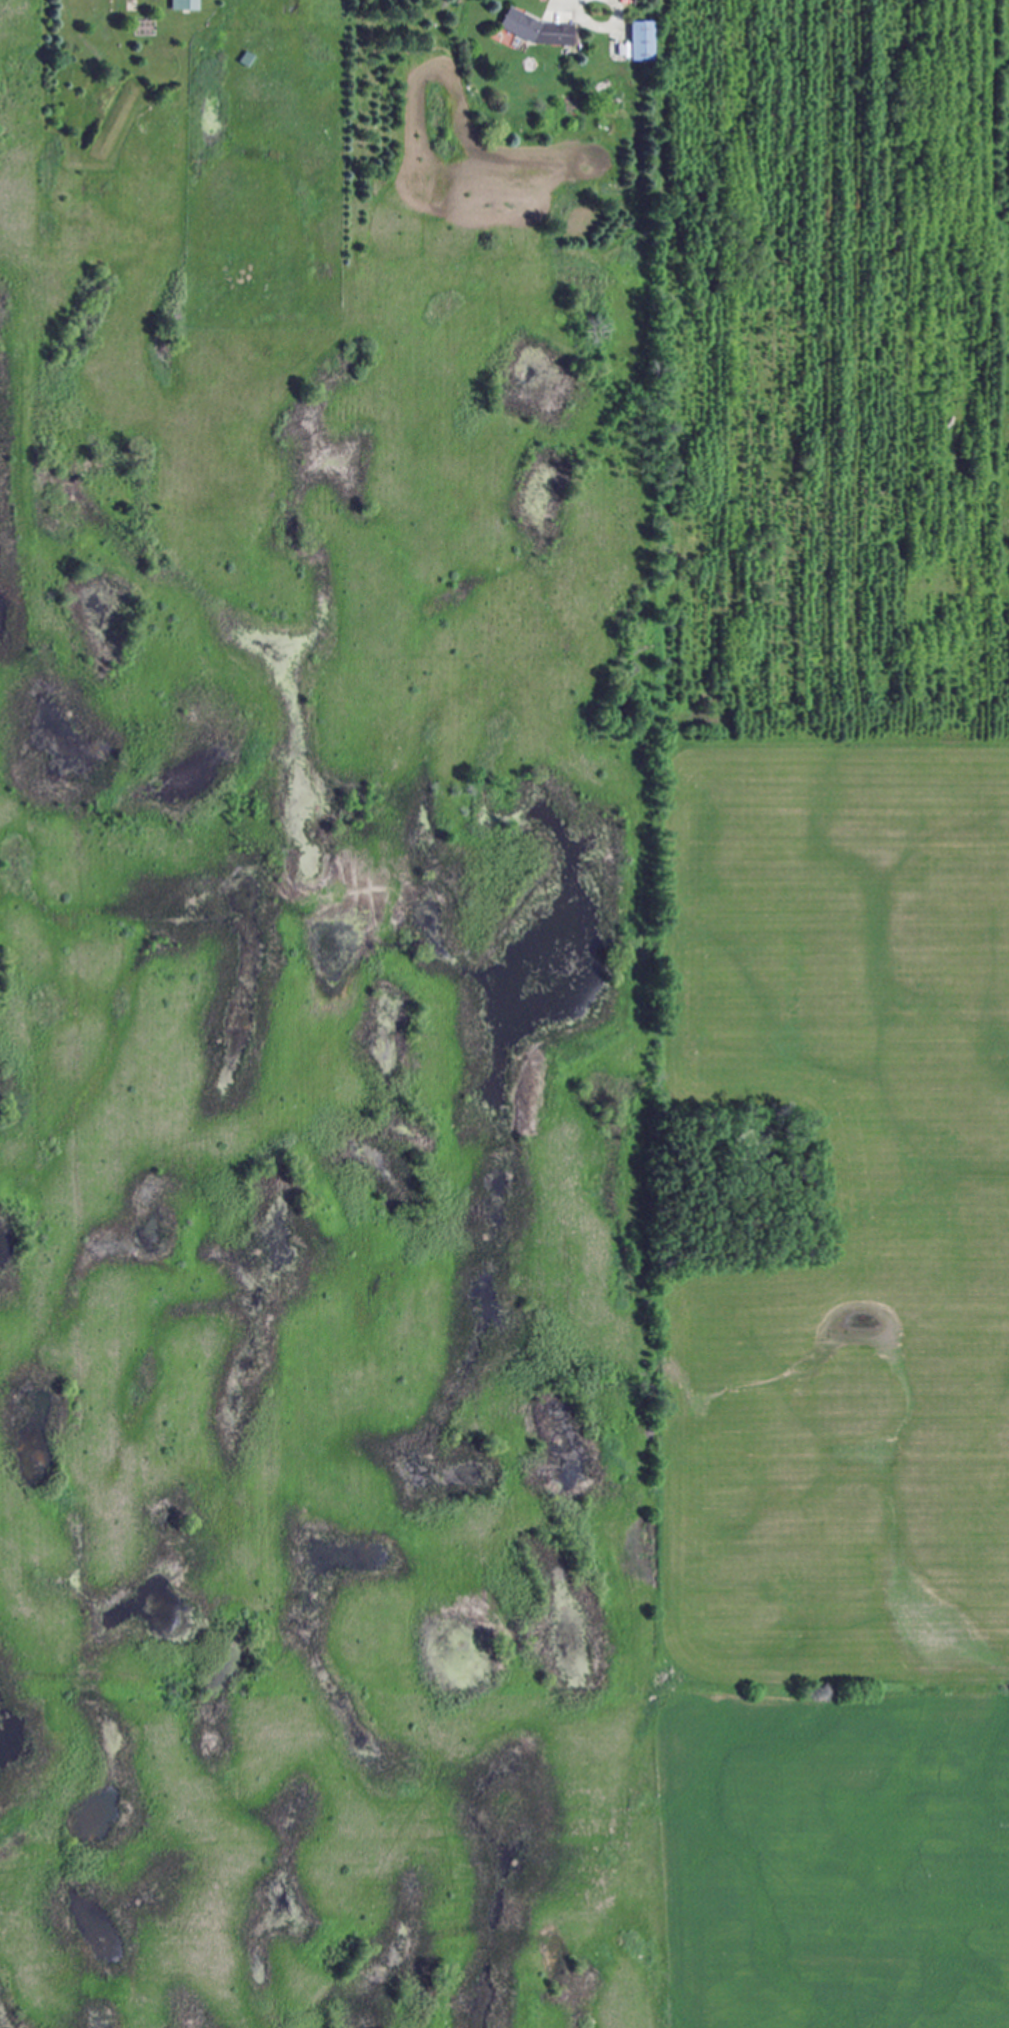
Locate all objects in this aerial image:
road: (569, 2)
building: (539, 30)
building: (644, 41)

